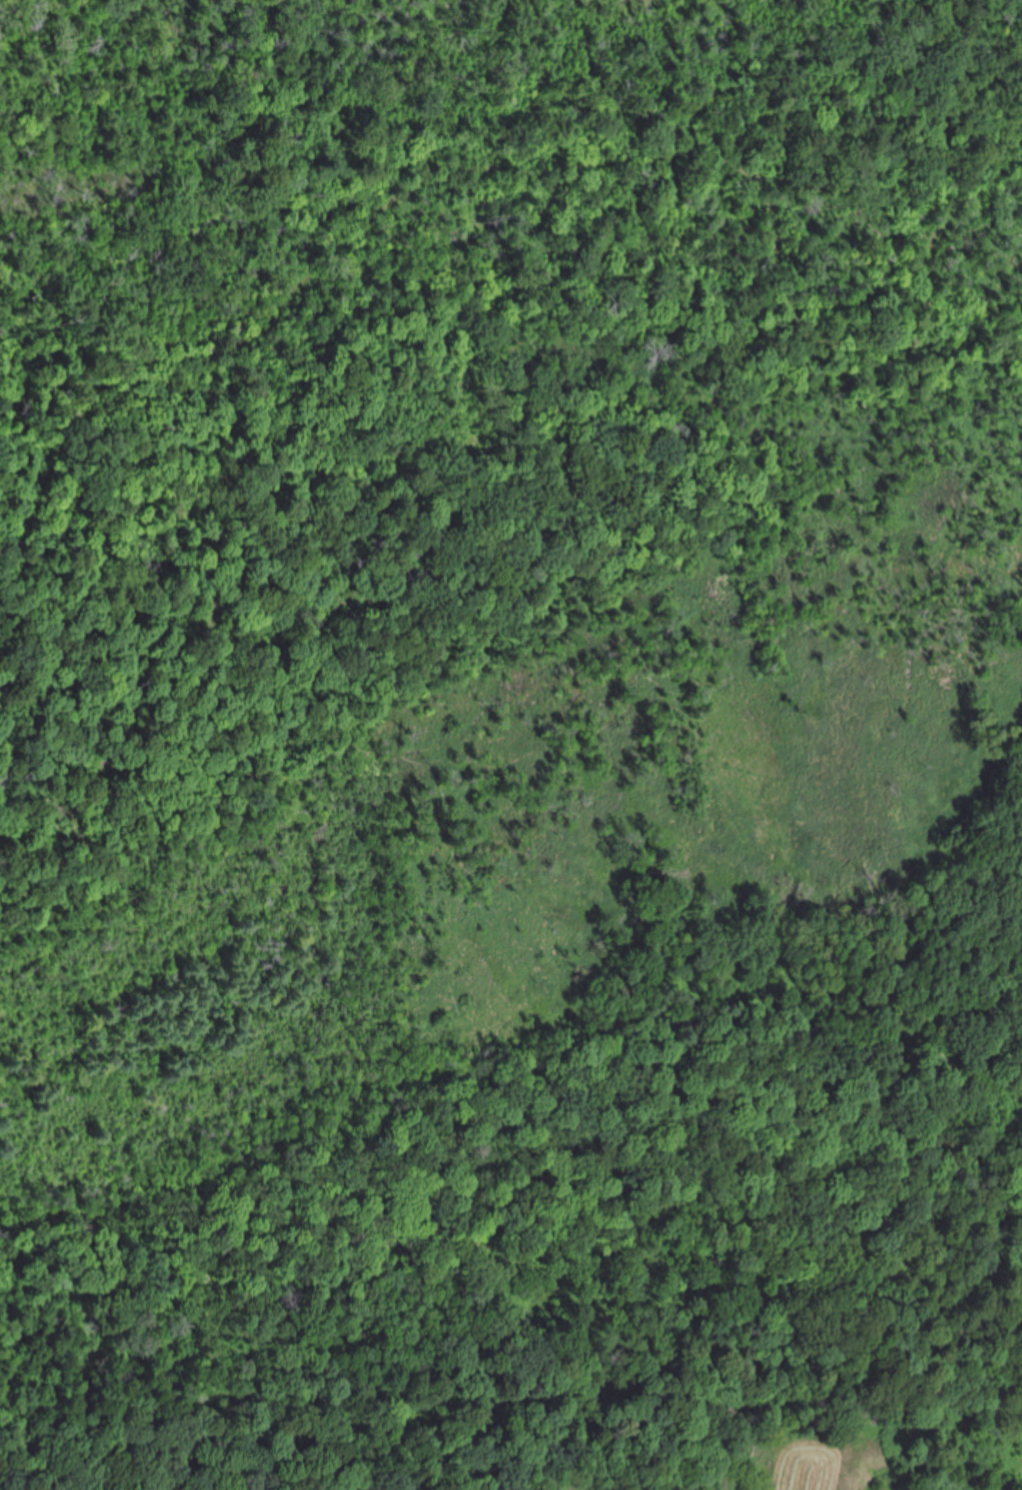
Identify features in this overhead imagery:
road: (477, 236)
park: (511, 729)

